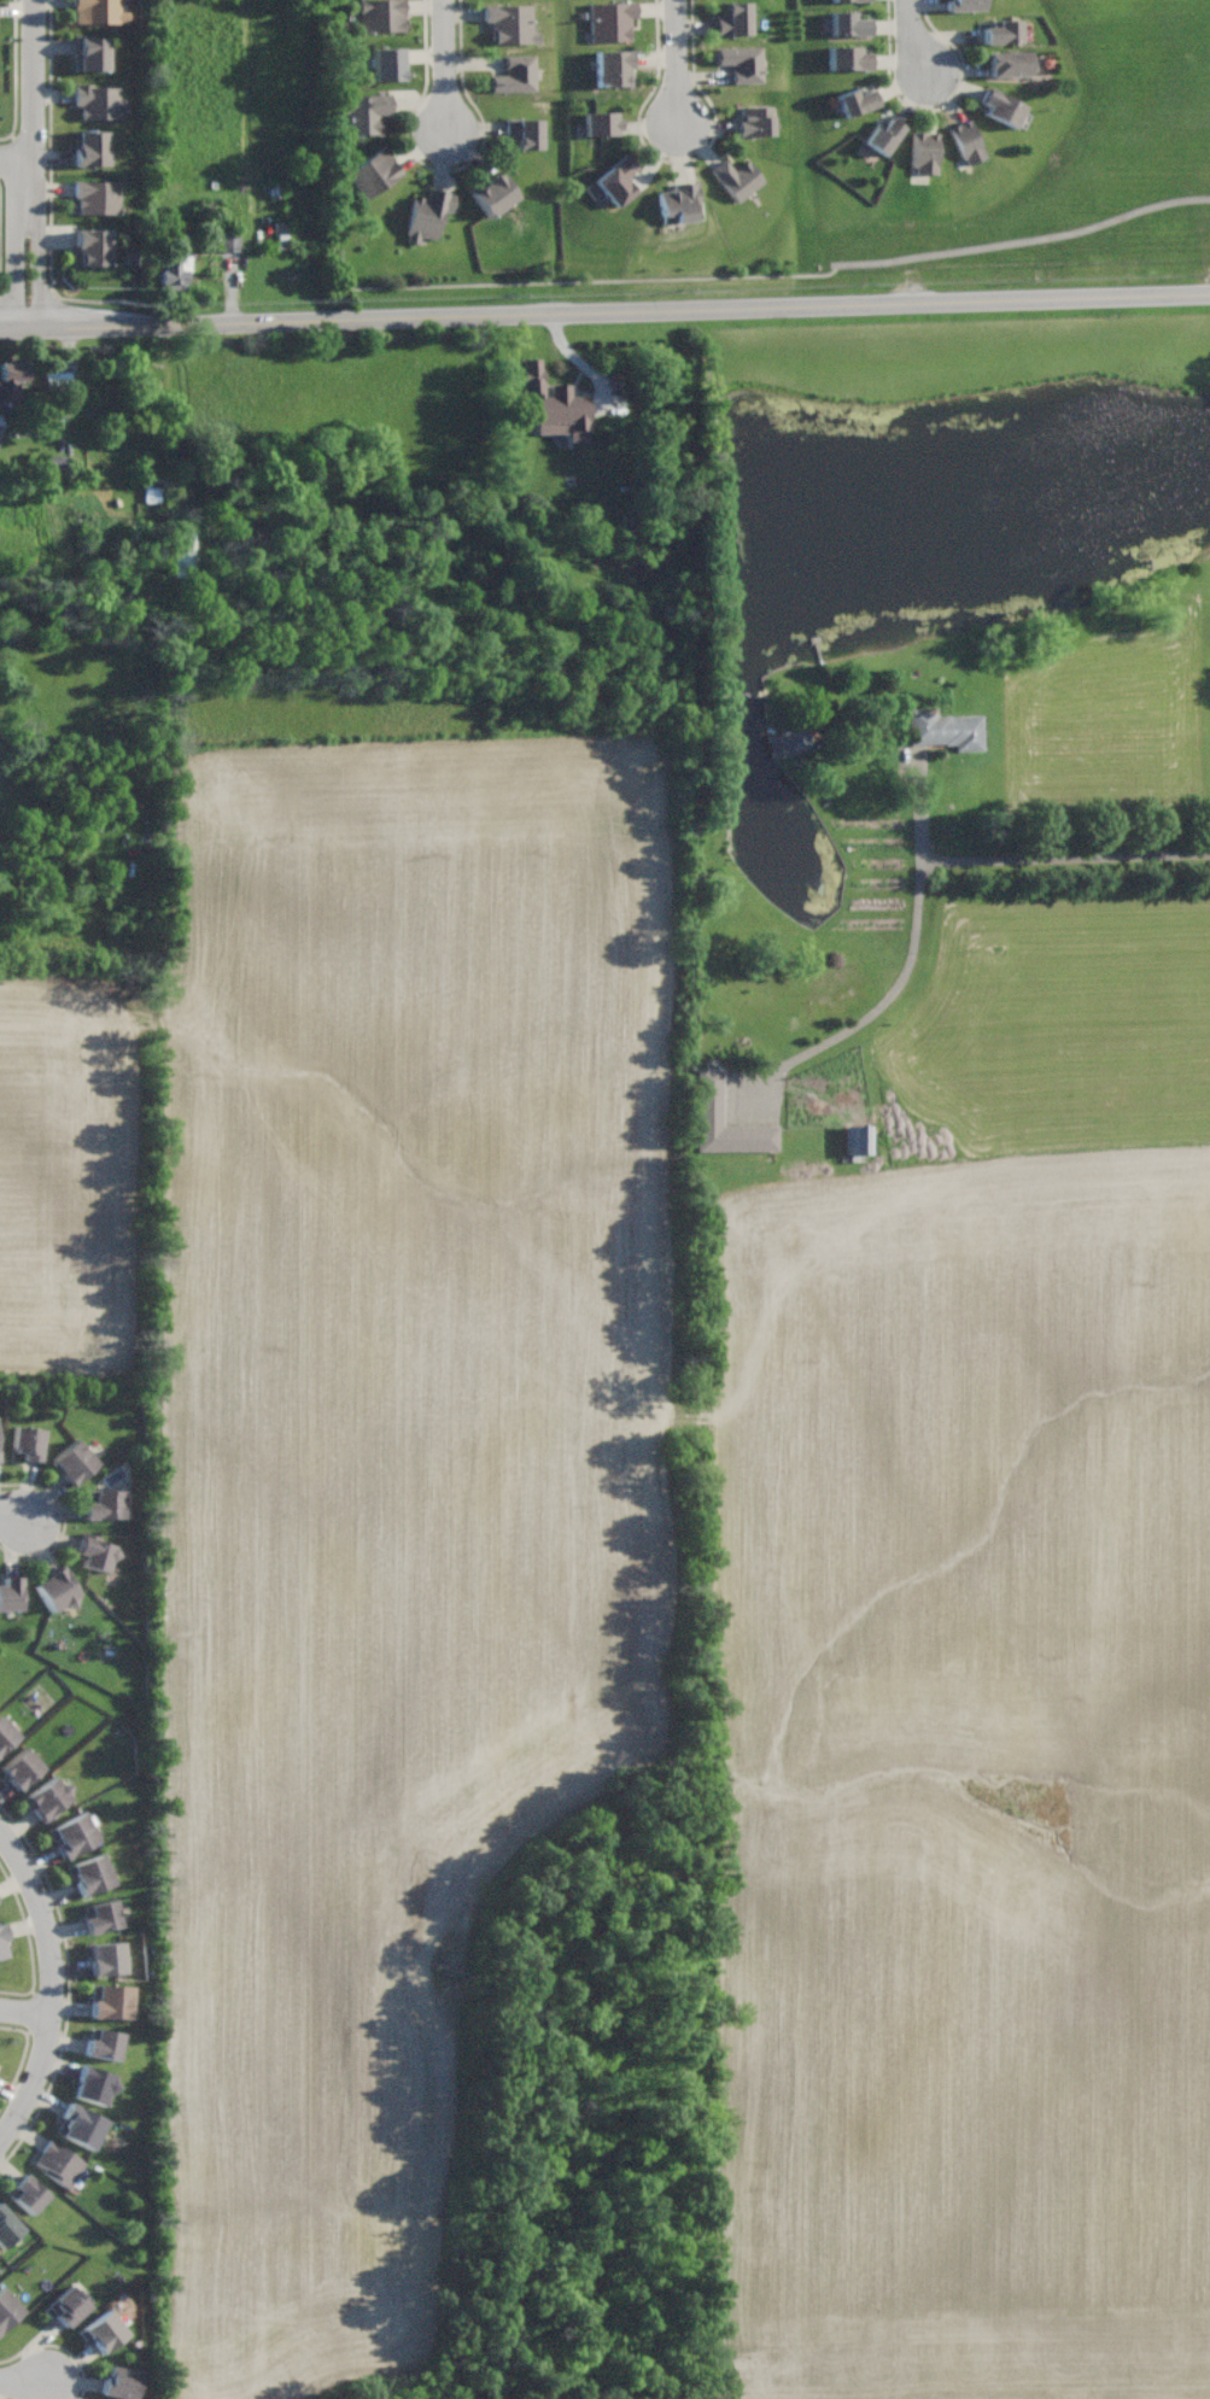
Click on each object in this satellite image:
building: (843, 0)
building: (964, 4)
building: (99, 11)
building: (381, 14)
building: (733, 19)
building: (610, 21)
building: (509, 22)
building: (848, 23)
building: (1003, 31)
road: (912, 40)
building: (89, 52)
building: (848, 57)
building: (387, 62)
building: (741, 62)
road: (677, 63)
building: (1010, 63)
road: (445, 68)
building: (612, 68)
building: (515, 75)
building: (97, 100)
building: (854, 100)
building: (1001, 106)
building: (363, 112)
building: (754, 121)
building: (600, 123)
building: (525, 131)
building: (883, 134)
building: (966, 141)
building: (89, 147)
building: (923, 152)
road: (16, 159)
road: (30, 165)
building: (373, 171)
building: (737, 177)
building: (615, 180)
building: (492, 193)
building: (95, 197)
building: (677, 203)
building: (427, 213)
building: (223, 241)
road: (1023, 241)
building: (90, 247)
building: (174, 274)
road: (604, 312)
building: (12, 380)
building: (57, 380)
building: (554, 404)
building: (0, 441)
building: (183, 554)
building: (945, 730)
road: (1068, 859)
road: (912, 955)
building: (708, 1096)
building: (858, 1140)
building: (27, 1441)
building: (74, 1463)
building: (103, 1504)
road: (11, 1514)
building: (93, 1552)
building: (57, 1586)
building: (10, 1592)
building: (5, 1733)
building: (21, 1767)
building: (46, 1798)
building: (70, 1835)
building: (89, 1873)
building: (98, 1915)
building: (2, 1938)
building: (105, 1958)
road: (51, 1985)
building: (110, 2001)
road: (27, 2014)
building: (100, 2043)
building: (90, 2084)
building: (80, 2124)
building: (57, 2164)
building: (27, 2193)
building: (6, 2228)
building: (68, 2305)
building: (6, 2309)
building: (100, 2330)
building: (121, 2383)
road: (19, 2386)

